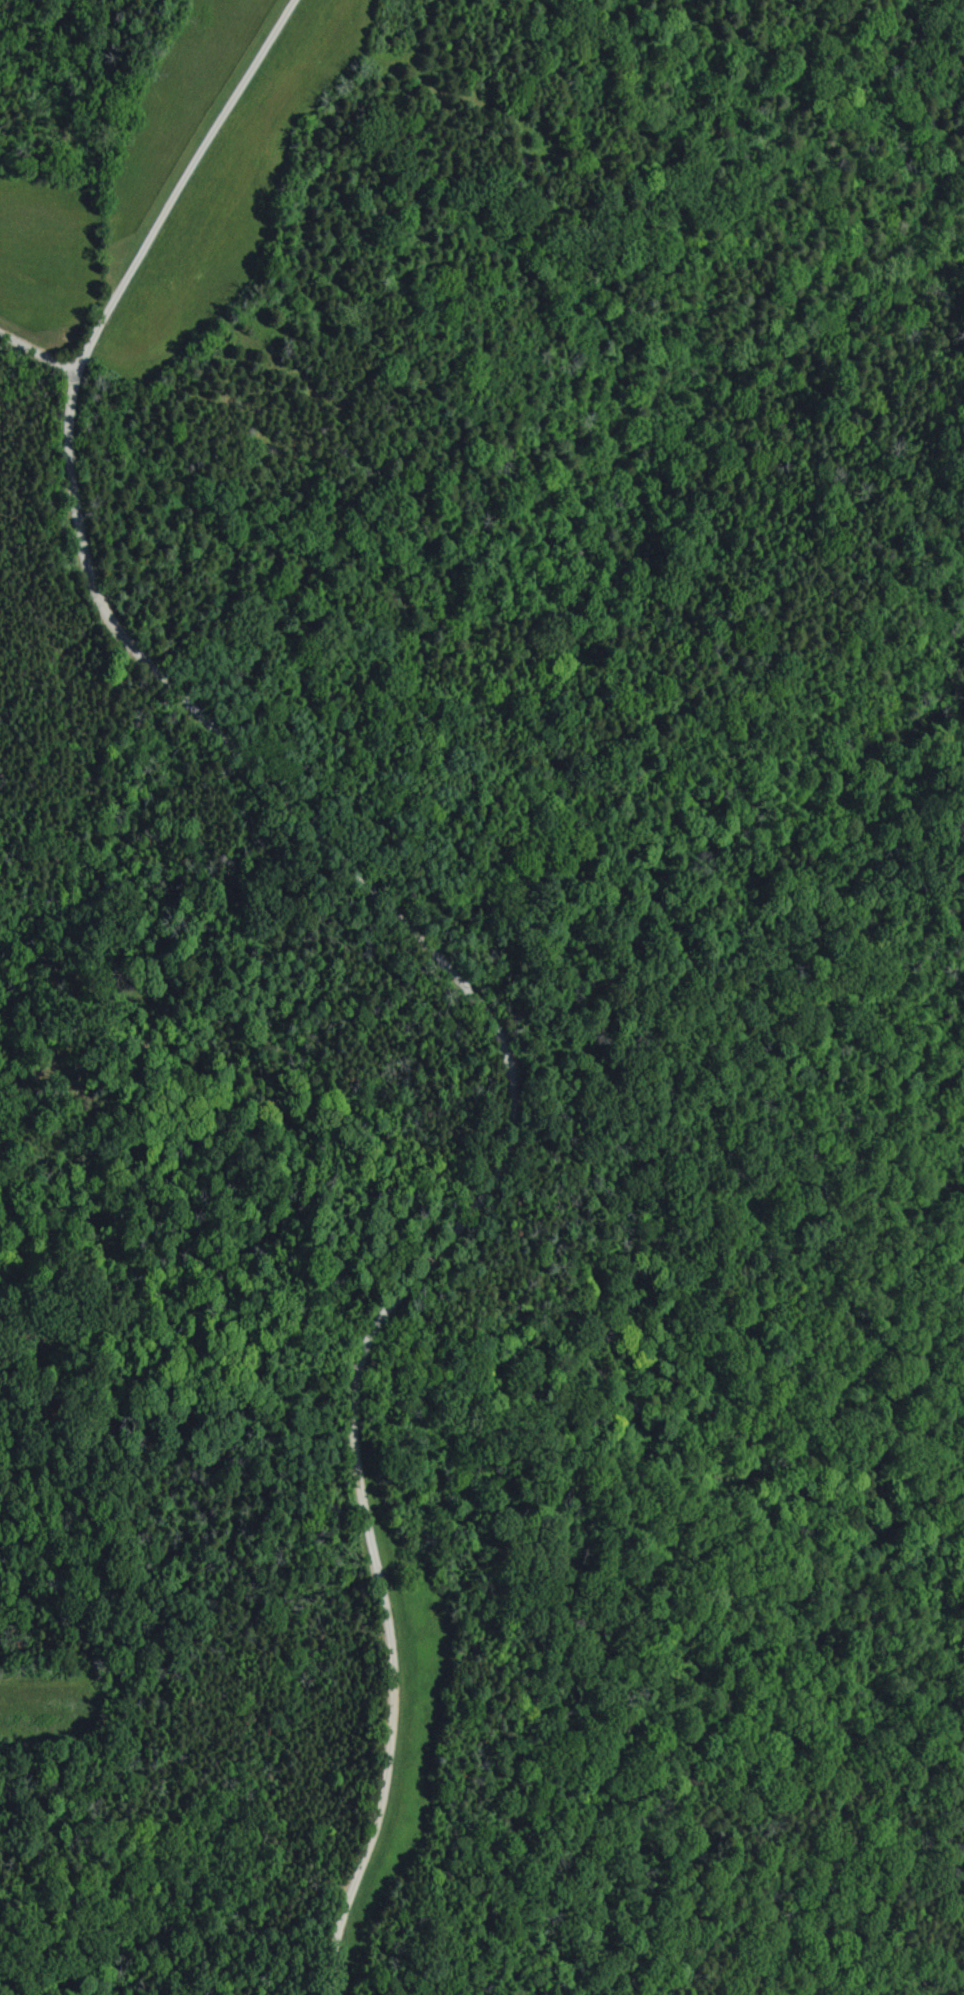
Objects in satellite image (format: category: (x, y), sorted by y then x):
road: (36, 336)
road: (437, 933)

